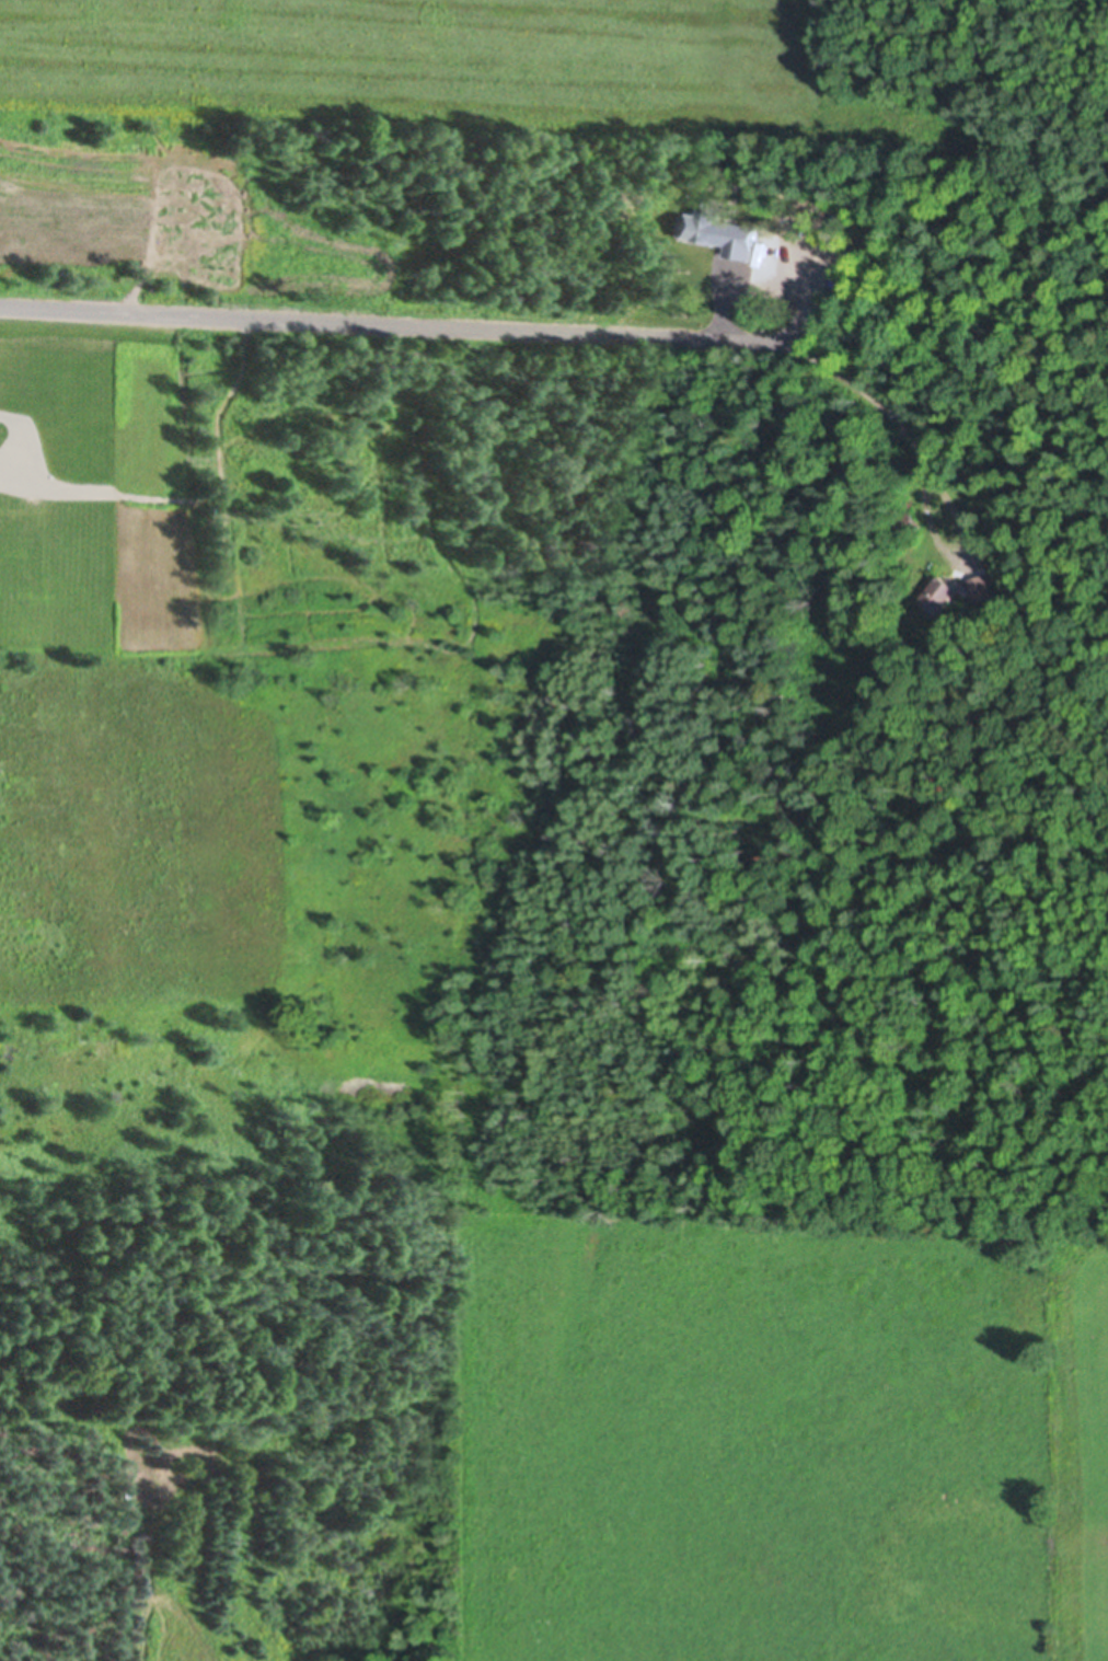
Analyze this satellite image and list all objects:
road: (395, 326)
building: (904, 520)
building: (836, 581)
building: (981, 585)
building: (938, 590)

